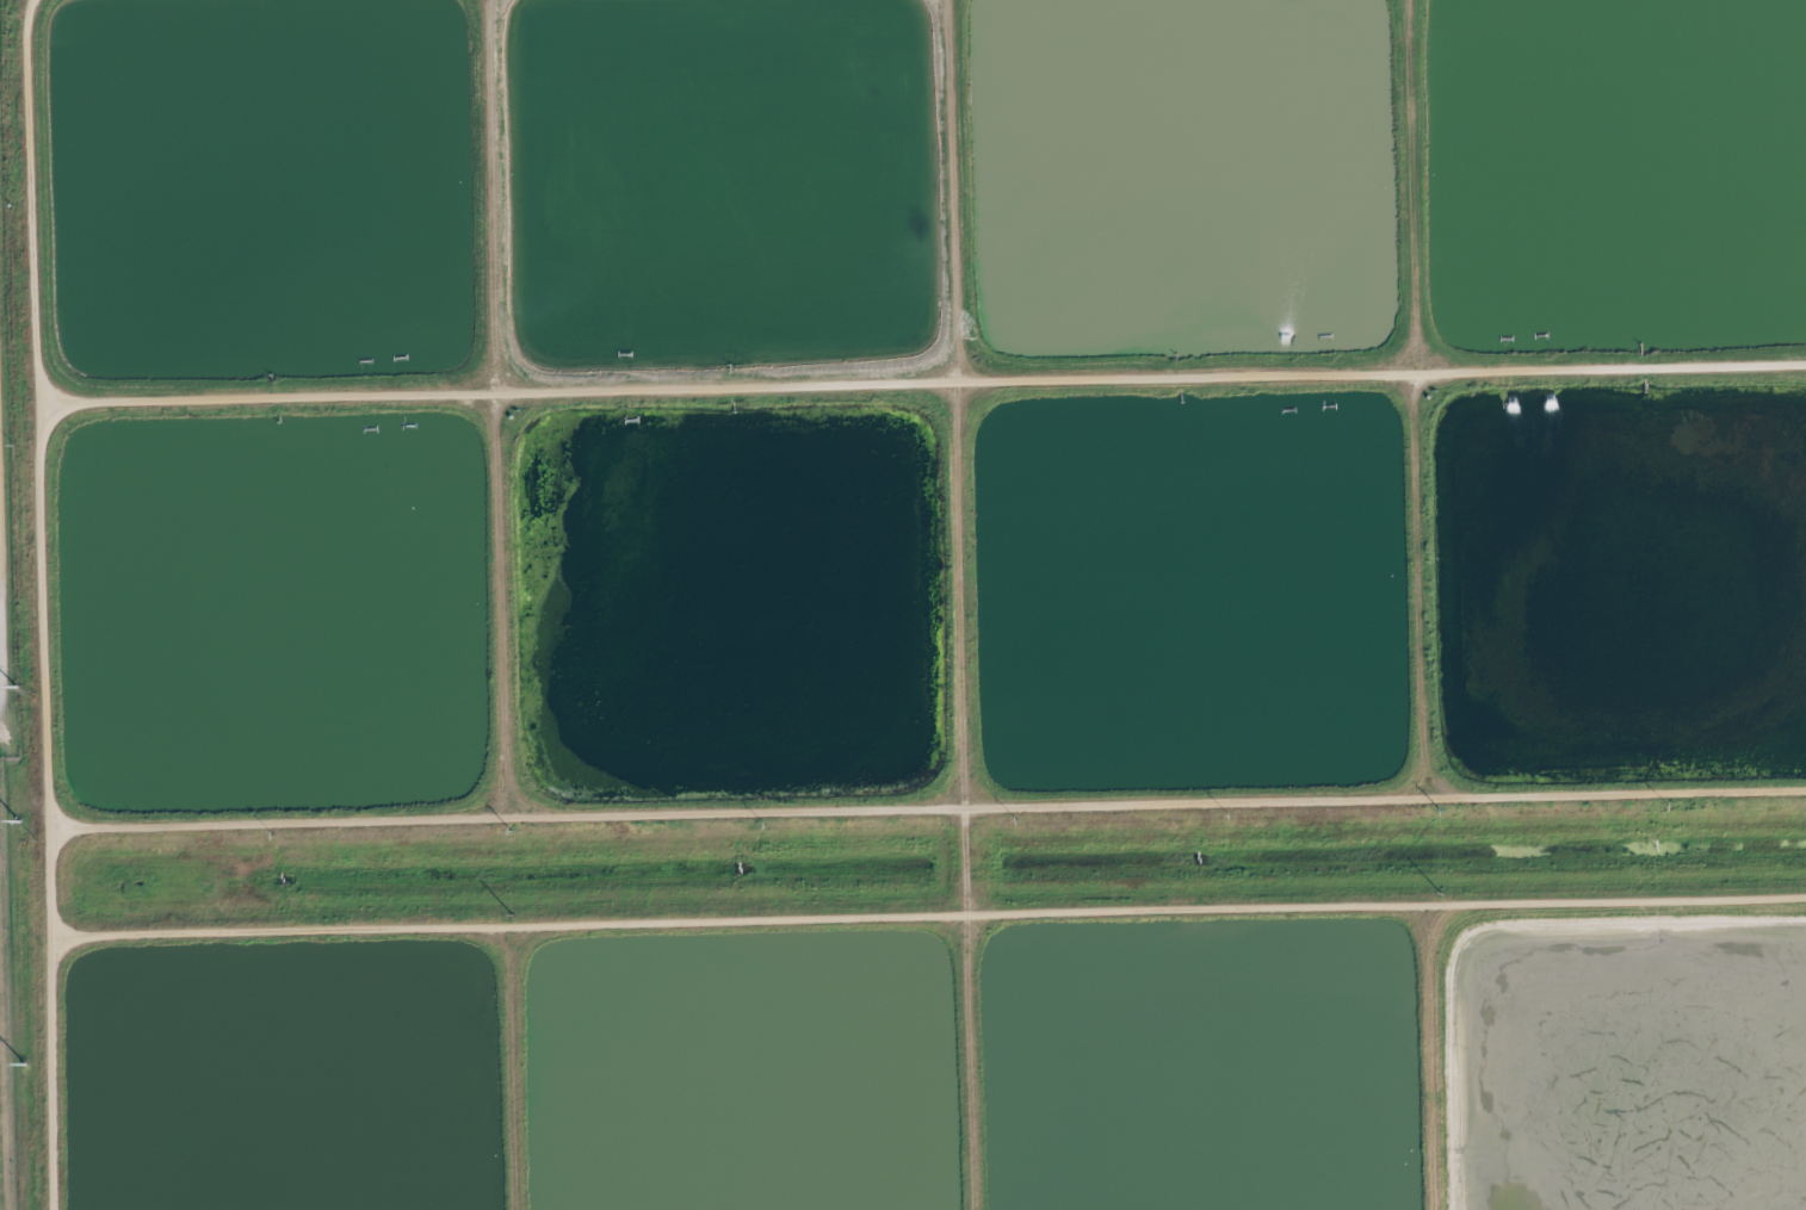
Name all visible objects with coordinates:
road: (1, 625)

